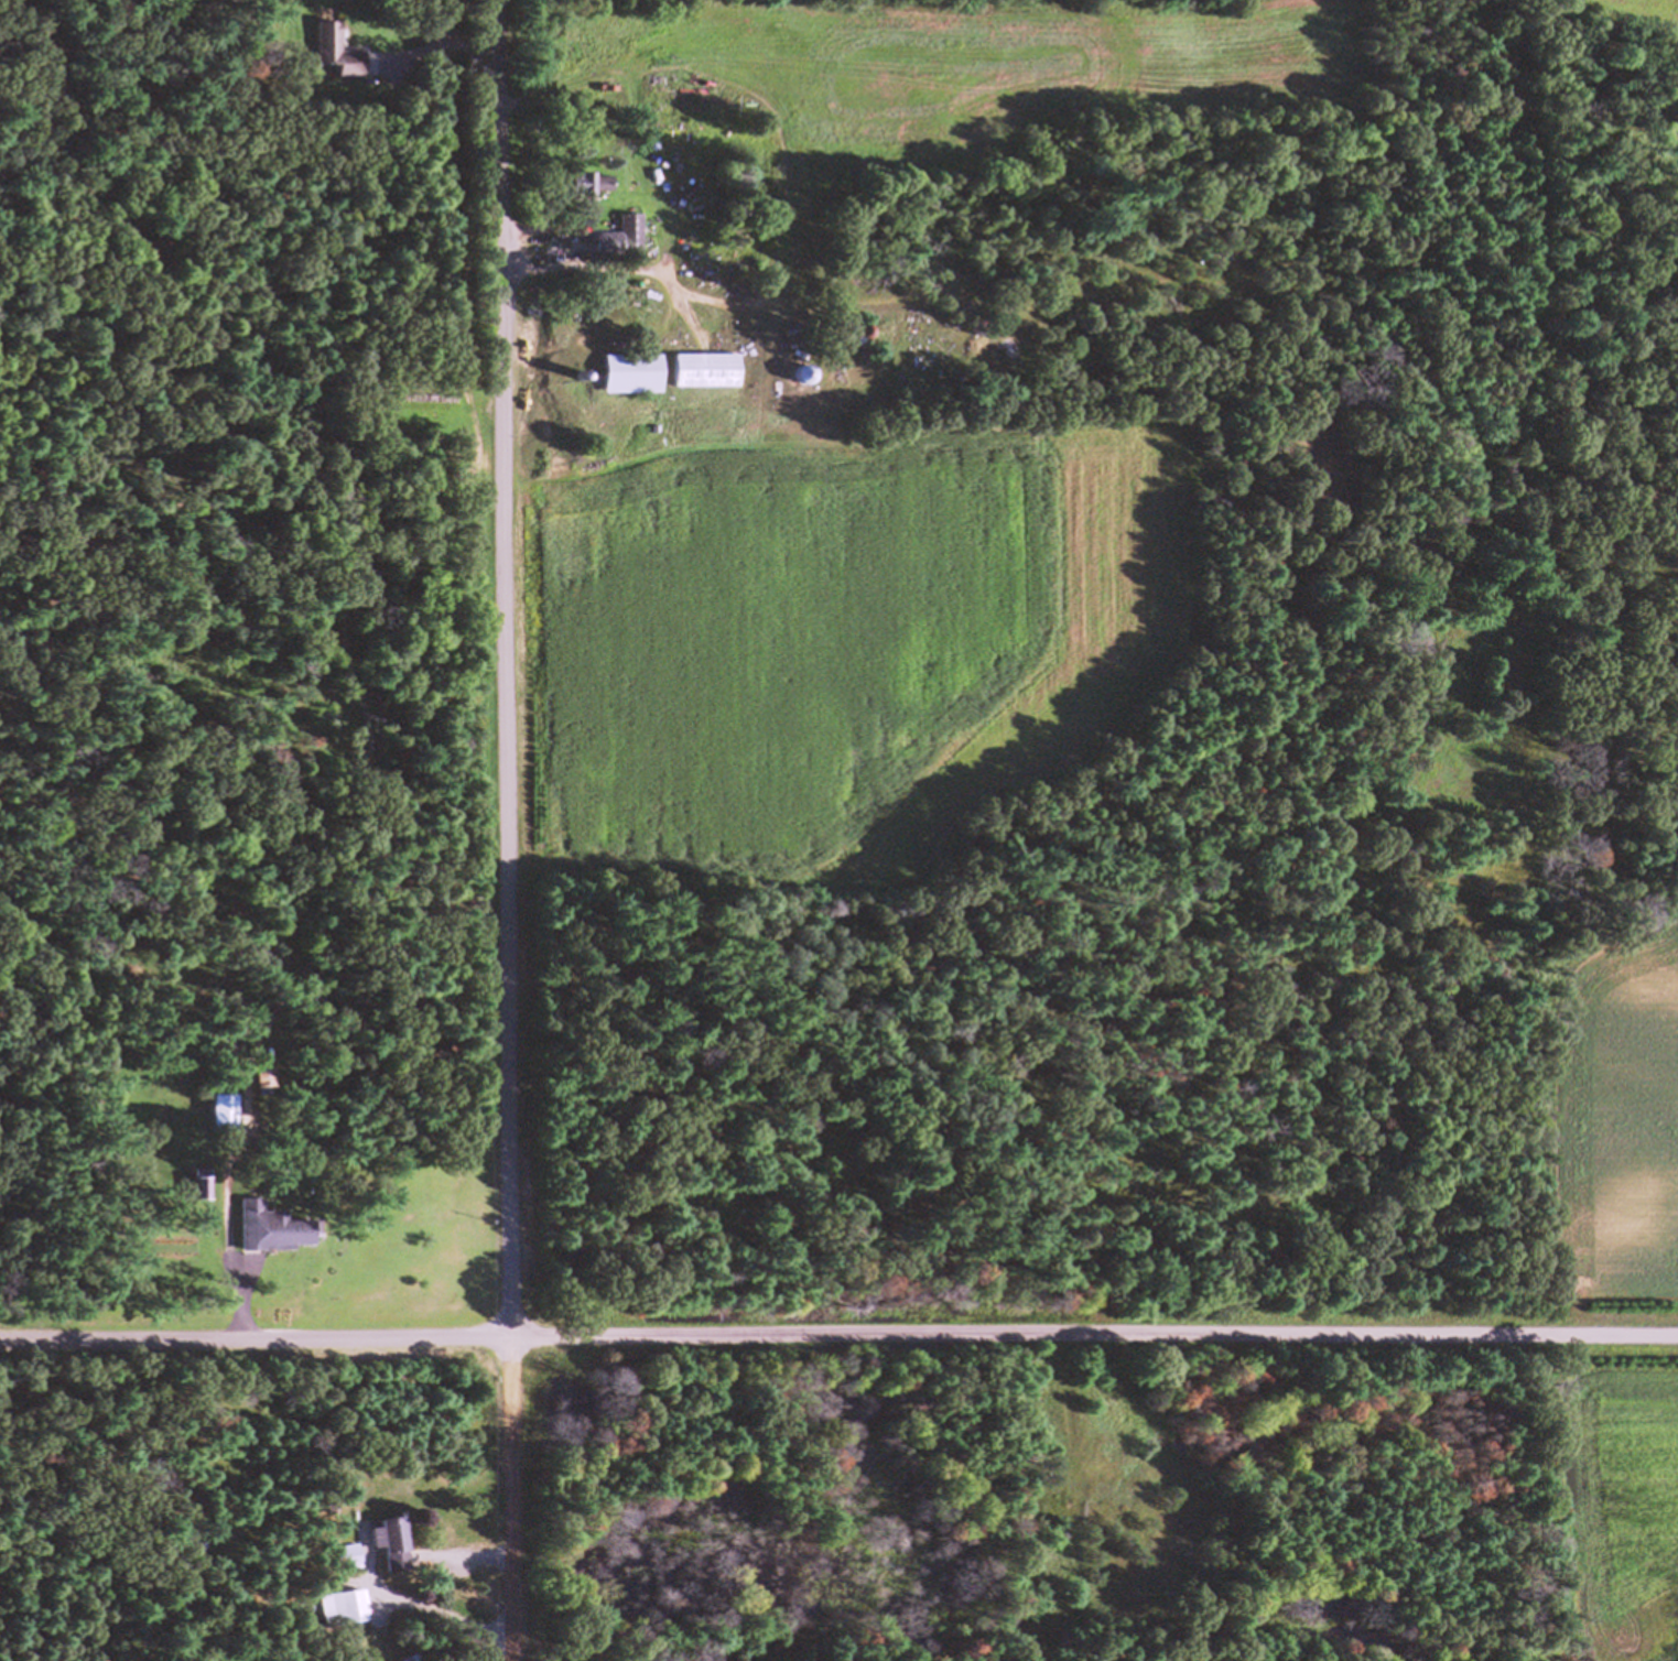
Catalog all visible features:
building: (332, 52)
building: (582, 184)
building: (618, 239)
building: (697, 370)
building: (625, 373)
building: (793, 376)
road: (507, 829)
building: (262, 1083)
building: (218, 1116)
building: (197, 1186)
building: (269, 1231)
road: (838, 1335)
building: (385, 1545)
building: (342, 1559)
building: (339, 1609)
building: (414, 1658)

